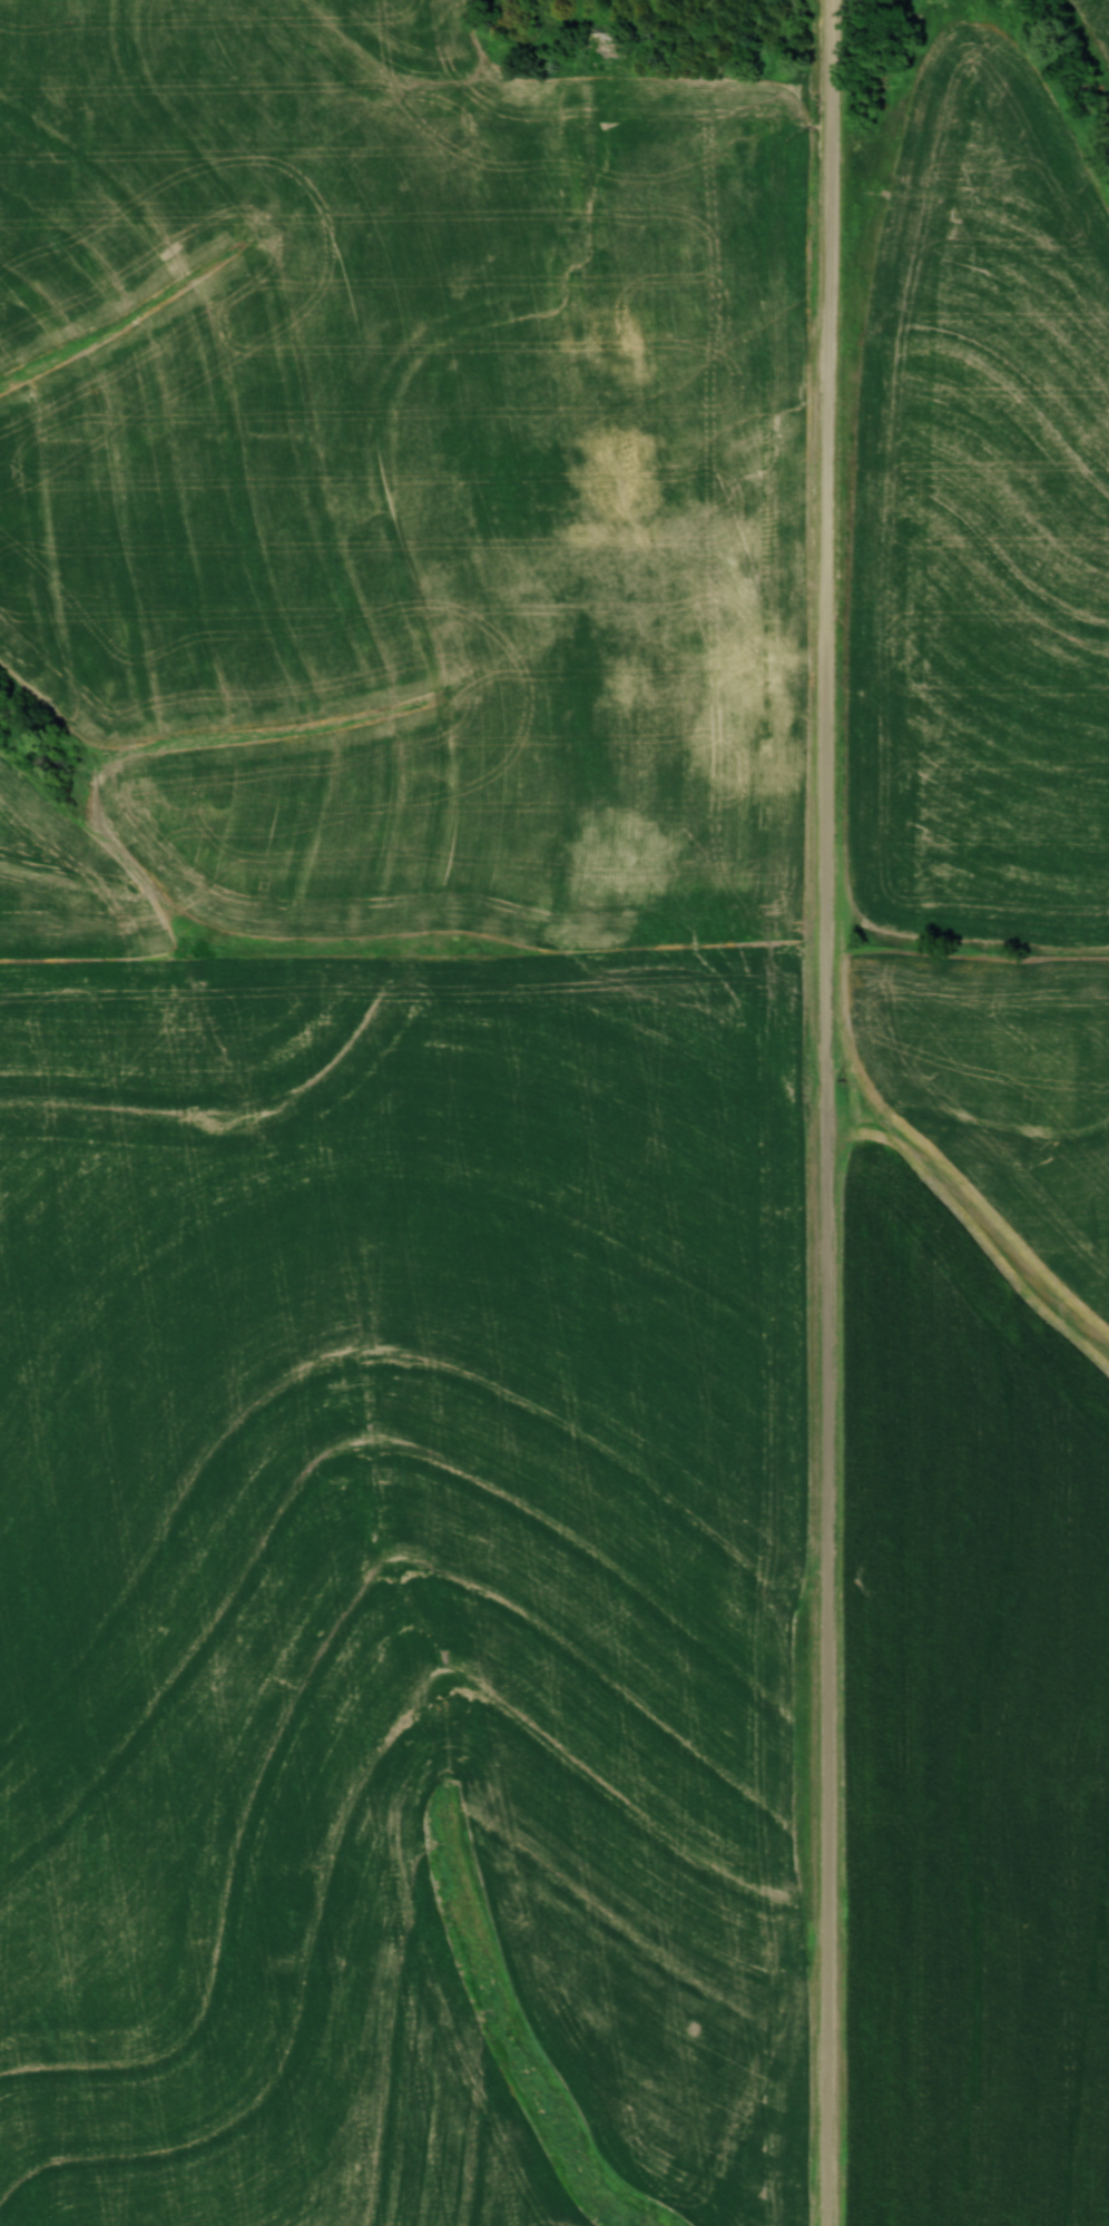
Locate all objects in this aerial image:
road: (830, 1112)

